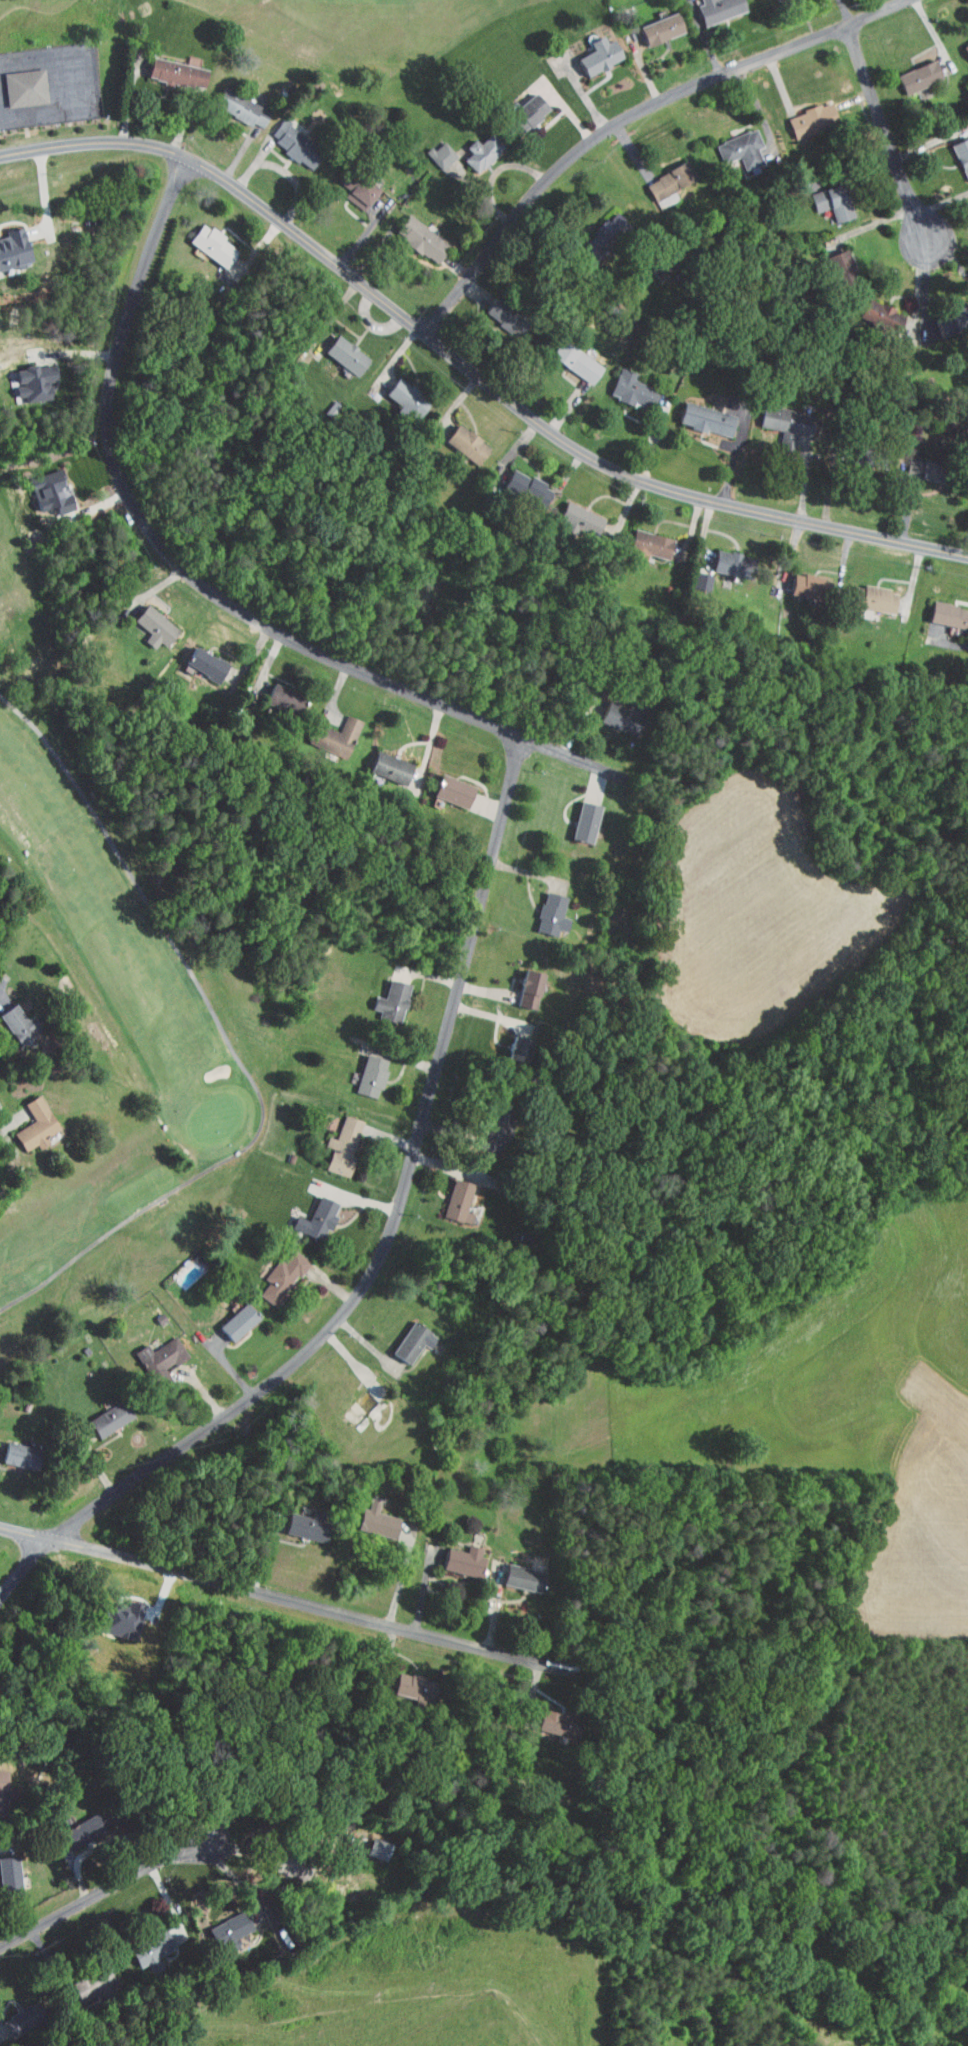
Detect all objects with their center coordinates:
building: (709, 6)
building: (652, 22)
building: (962, 42)
building: (590, 49)
building: (167, 66)
building: (909, 70)
building: (17, 81)
building: (231, 101)
building: (518, 105)
building: (802, 113)
road: (633, 116)
road: (888, 135)
building: (286, 137)
building: (732, 142)
building: (471, 146)
building: (431, 148)
building: (957, 150)
building: (660, 174)
building: (348, 182)
road: (42, 192)
building: (823, 195)
road: (941, 203)
building: (412, 232)
building: (203, 239)
building: (7, 241)
building: (831, 260)
building: (871, 308)
building: (495, 311)
building: (336, 348)
building: (566, 354)
road: (469, 363)
building: (24, 375)
building: (623, 383)
building: (397, 391)
building: (697, 413)
building: (779, 419)
building: (457, 437)
building: (913, 462)
building: (517, 481)
building: (41, 485)
building: (571, 513)
building: (638, 539)
building: (719, 556)
building: (692, 574)
building: (796, 579)
road: (203, 583)
building: (864, 592)
building: (941, 608)
building: (146, 621)
road: (947, 642)
building: (196, 658)
building: (274, 692)
building: (611, 714)
building: (326, 730)
building: (380, 762)
building: (443, 785)
building: (576, 816)
building: (542, 908)
building: (520, 983)
building: (382, 995)
building: (11, 1020)
building: (509, 1038)
building: (361, 1070)
road: (9, 1117)
building: (26, 1119)
building: (482, 1130)
building: (333, 1139)
building: (449, 1195)
building: (307, 1213)
road: (384, 1250)
building: (272, 1271)
building: (228, 1316)
building: (403, 1337)
building: (151, 1355)
building: (100, 1411)
building: (7, 1447)
building: (367, 1513)
building: (297, 1519)
building: (454, 1553)
building: (512, 1571)
road: (264, 1592)
building: (405, 1680)
building: (542, 1715)
building: (73, 1824)
building: (367, 1843)
building: (4, 1869)
road: (110, 1888)
building: (219, 1924)
building: (141, 1942)
building: (3, 2022)

